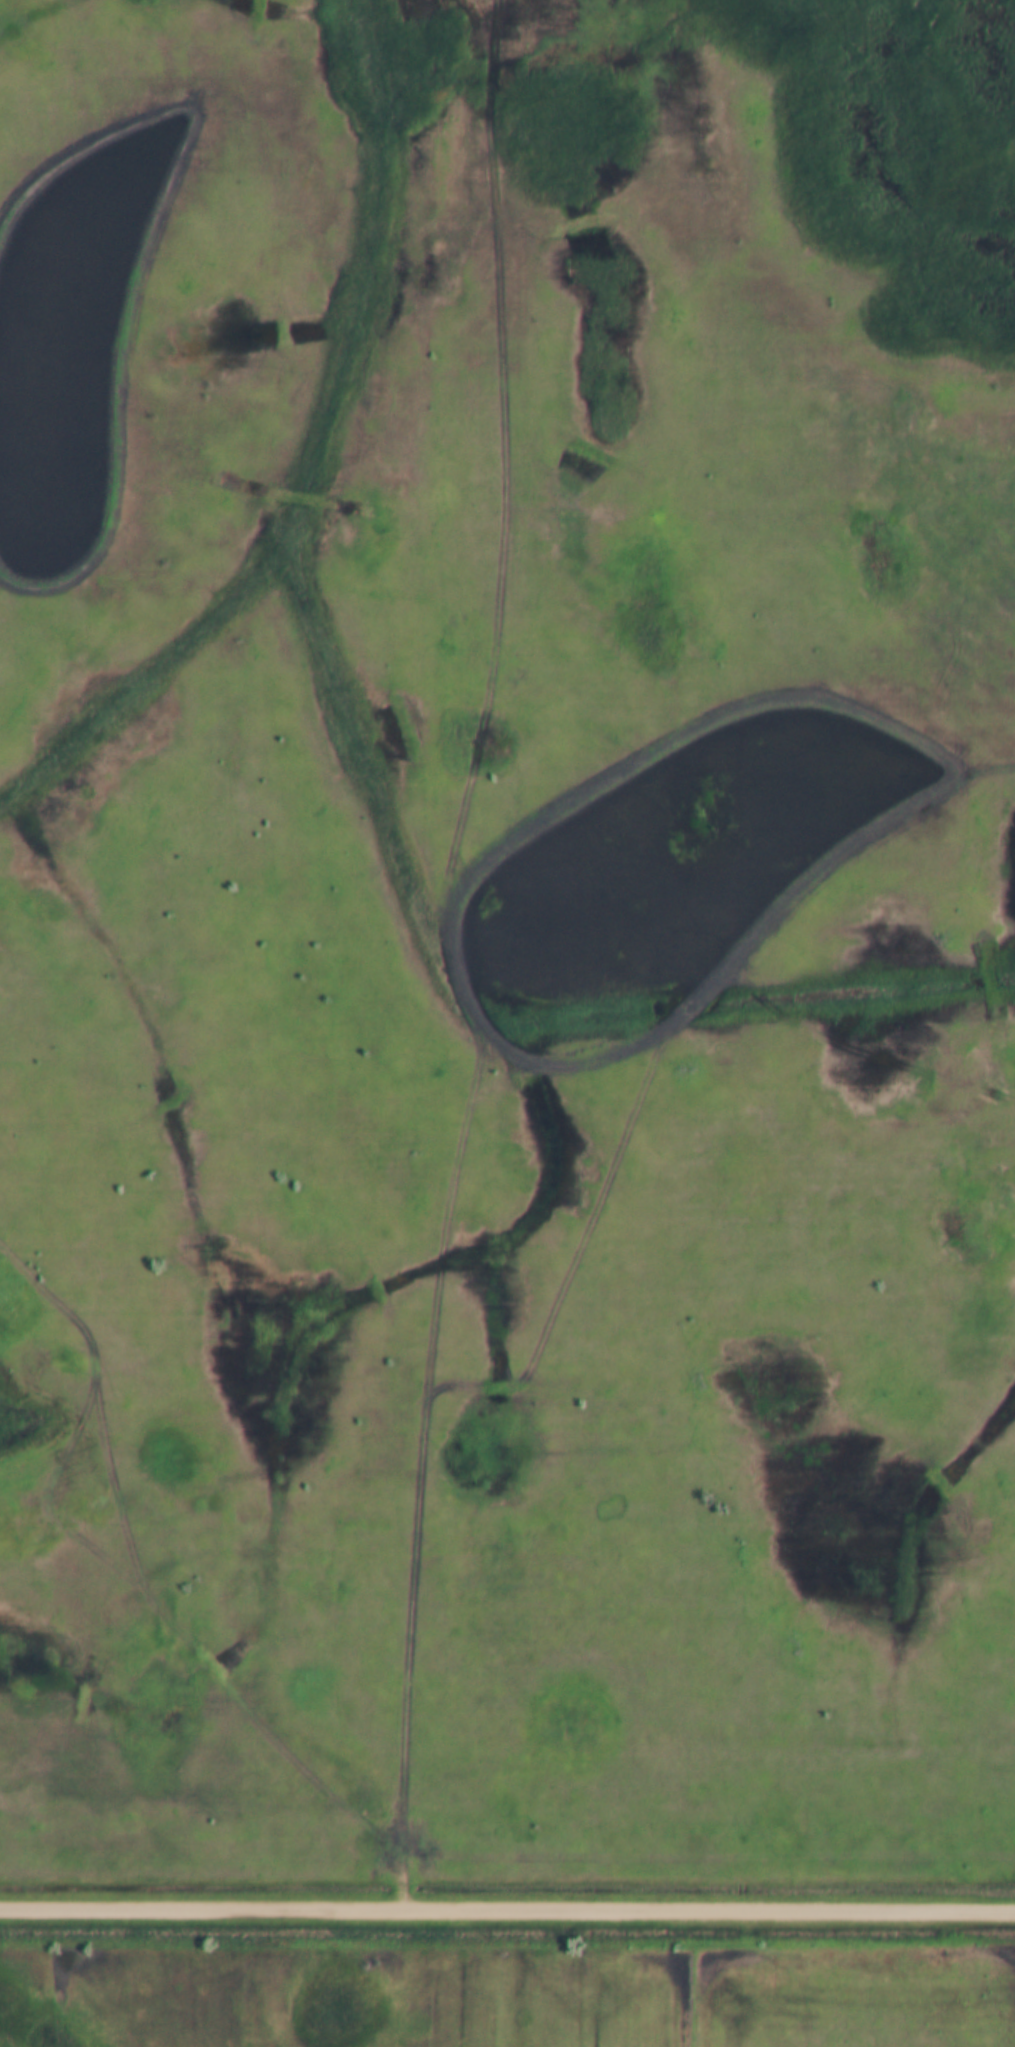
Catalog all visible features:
road: (507, 1912)

